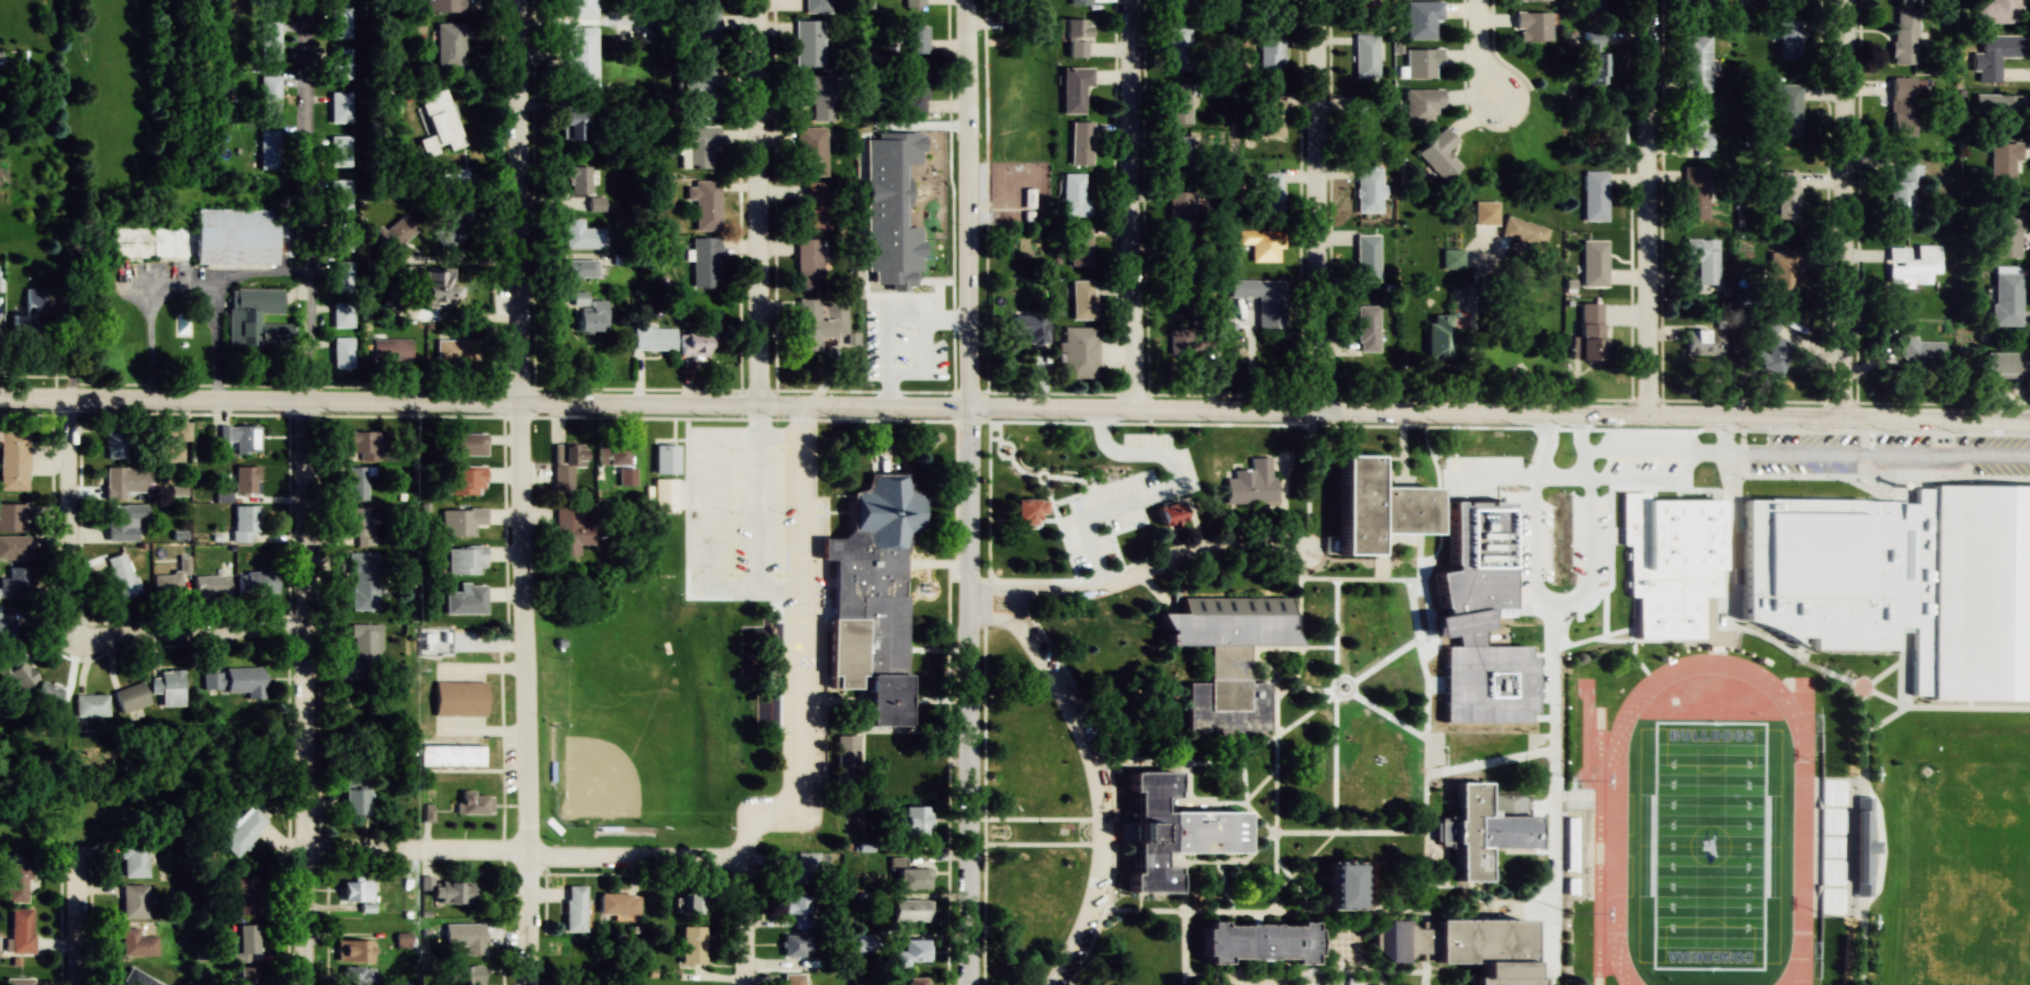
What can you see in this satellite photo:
building: (1079, 2)
building: (1698, 2)
building: (268, 3)
building: (706, 3)
building: (913, 3)
building: (1365, 3)
building: (1010, 4)
building: (443, 5)
building: (815, 6)
building: (1594, 6)
building: (1179, 7)
building: (580, 8)
building: (1272, 10)
building: (2000, 11)
building: (1422, 18)
building: (338, 23)
building: (1532, 26)
building: (1905, 36)
building: (1076, 37)
building: (706, 38)
building: (1788, 38)
building: (914, 39)
building: (267, 41)
building: (808, 43)
building: (449, 44)
building: (1180, 48)
road: (1478, 52)
building: (1997, 54)
building: (580, 57)
building: (1270, 57)
building: (1365, 57)
building: (12, 58)
building: (1595, 60)
building: (1422, 62)
building: (339, 63)
building: (1696, 63)
building: (1073, 88)
building: (699, 92)
building: (911, 92)
building: (814, 93)
building: (269, 95)
building: (1179, 103)
building: (1422, 105)
building: (1902, 106)
building: (339, 107)
building: (1787, 109)
building: (1999, 112)
building: (1272, 116)
building: (1364, 120)
building: (439, 124)
building: (572, 125)
building: (1696, 126)
building: (1081, 139)
building: (696, 145)
building: (270, 149)
building: (340, 151)
building: (809, 151)
building: (1439, 154)
building: (1181, 157)
building: (2004, 165)
building: (577, 180)
road: (482, 186)
building: (1367, 190)
building: (1695, 193)
building: (1270, 194)
building: (341, 195)
building: (1787, 195)
building: (1075, 196)
building: (1595, 196)
building: (1903, 197)
road: (308, 201)
road: (758, 203)
building: (595, 204)
building: (705, 204)
road: (1128, 205)
road: (1315, 206)
road: (1647, 208)
building: (813, 209)
road: (1849, 209)
building: (1181, 212)
building: (207, 230)
building: (452, 231)
building: (1523, 232)
building: (2005, 232)
building: (392, 234)
building: (581, 235)
building: (341, 236)
building: (1262, 244)
building: (1082, 246)
building: (1367, 258)
building: (1452, 258)
building: (1704, 259)
building: (704, 262)
building: (807, 263)
building: (1593, 263)
building: (1182, 265)
building: (1911, 265)
building: (581, 269)
building: (341, 274)
building: (1782, 276)
building: (435, 288)
building: (2005, 295)
building: (1083, 299)
building: (1263, 299)
building: (341, 312)
building: (591, 317)
building: (255, 320)
building: (17, 321)
building: (819, 322)
road: (1478, 324)
building: (1029, 328)
building: (1367, 328)
building: (1589, 332)
building: (1435, 336)
building: (653, 338)
building: (1177, 340)
building: (1708, 342)
building: (696, 344)
building: (1767, 345)
building: (391, 349)
building: (1918, 350)
building: (342, 352)
building: (454, 352)
building: (1078, 352)
building: (2003, 365)
road: (399, 403)
road: (1415, 413)
road: (1429, 426)
building: (240, 437)
building: (171, 440)
building: (464, 444)
building: (115, 445)
building: (363, 445)
road: (1402, 452)
building: (611, 454)
road: (1389, 458)
building: (13, 459)
building: (665, 459)
parking lot: (1886, 460)
building: (1037, 462)
parking lot: (1623, 462)
building: (565, 465)
road: (1016, 469)
road: (1054, 476)
road: (1885, 476)
building: (245, 479)
building: (464, 480)
building: (123, 481)
building: (358, 482)
building: (1251, 484)
road: (989, 487)
road: (1598, 490)
road: (522, 492)
road: (967, 492)
building: (668, 494)
building: (1373, 506)
road: (1726, 508)
building: (1026, 511)
building: (1167, 515)
building: (12, 517)
parking lot: (1526, 518)
parking lot: (1096, 519)
parking lot: (1096, 519)
building: (123, 520)
building: (460, 521)
building: (243, 523)
building: (361, 525)
building: (569, 529)
building: (1116, 535)
road: (1584, 537)
road: (1254, 538)
road: (1050, 542)
building: (13, 547)
road: (1174, 547)
building: (1670, 559)
building: (465, 560)
road: (1320, 560)
road: (1137, 573)
building: (121, 576)
road: (1023, 579)
building: (1901, 580)
building: (259, 581)
building: (363, 582)
building: (14, 583)
building: (211, 585)
building: (871, 595)
building: (465, 600)
road: (1012, 602)
road: (1486, 603)
road: (72, 628)
road: (1732, 629)
building: (8, 631)
road: (1591, 638)
road: (1300, 641)
road: (1670, 644)
road: (1798, 649)
road: (799, 650)
road: (1424, 651)
road: (1901, 652)
building: (362, 654)
building: (1225, 656)
road: (1881, 673)
building: (18, 675)
road: (1291, 678)
road: (1380, 678)
building: (234, 681)
road: (1848, 681)
building: (1484, 684)
building: (170, 687)
road: (1549, 691)
road: (300, 694)
road: (1884, 696)
building: (130, 698)
building: (458, 699)
building: (47, 701)
road: (1334, 705)
building: (90, 706)
road: (1966, 708)
park: (647, 711)
road: (1282, 730)
road: (1538, 741)
road: (1480, 746)
building: (447, 756)
building: (845, 759)
road: (1208, 762)
road: (1148, 763)
road: (1452, 771)
road: (1091, 776)
road: (1188, 782)
road: (1260, 787)
road: (1274, 789)
parking lot: (1105, 799)
building: (354, 801)
road: (1202, 801)
building: (474, 804)
stadium: (1702, 816)
road: (1259, 817)
road: (1043, 818)
building: (914, 821)
building: (1481, 829)
building: (243, 831)
building: (1169, 831)
road: (1348, 833)
road: (1431, 842)
road: (1042, 844)
building: (1570, 844)
park: (1709, 844)
track: (1615, 845)
building: (1856, 847)
road: (523, 850)
building: (134, 860)
road: (1304, 861)
road: (1223, 863)
building: (800, 867)
road: (1442, 867)
park: (1963, 871)
building: (908, 876)
building: (16, 882)
road: (1220, 886)
road: (1443, 886)
building: (1340, 887)
building: (356, 890)
building: (455, 893)
building: (241, 894)
building: (133, 901)
building: (692, 902)
building: (618, 903)
building: (573, 909)
building: (798, 910)
building: (909, 911)
road: (1316, 912)
road: (73, 916)
road: (743, 921)
road: (1183, 924)
building: (20, 931)
building: (464, 937)
building: (400, 940)
building: (863, 942)
road: (1856, 942)
building: (137, 943)
building: (1256, 943)
building: (692, 945)
building: (796, 945)
building: (245, 946)
building: (1460, 947)
building: (354, 951)
building: (913, 951)
road: (1309, 971)
road: (1372, 974)
building: (463, 975)
building: (247, 976)
building: (357, 976)
building: (136, 979)
building: (792, 979)
parking lot: (1286, 981)
building: (17, 982)
building: (912, 982)

